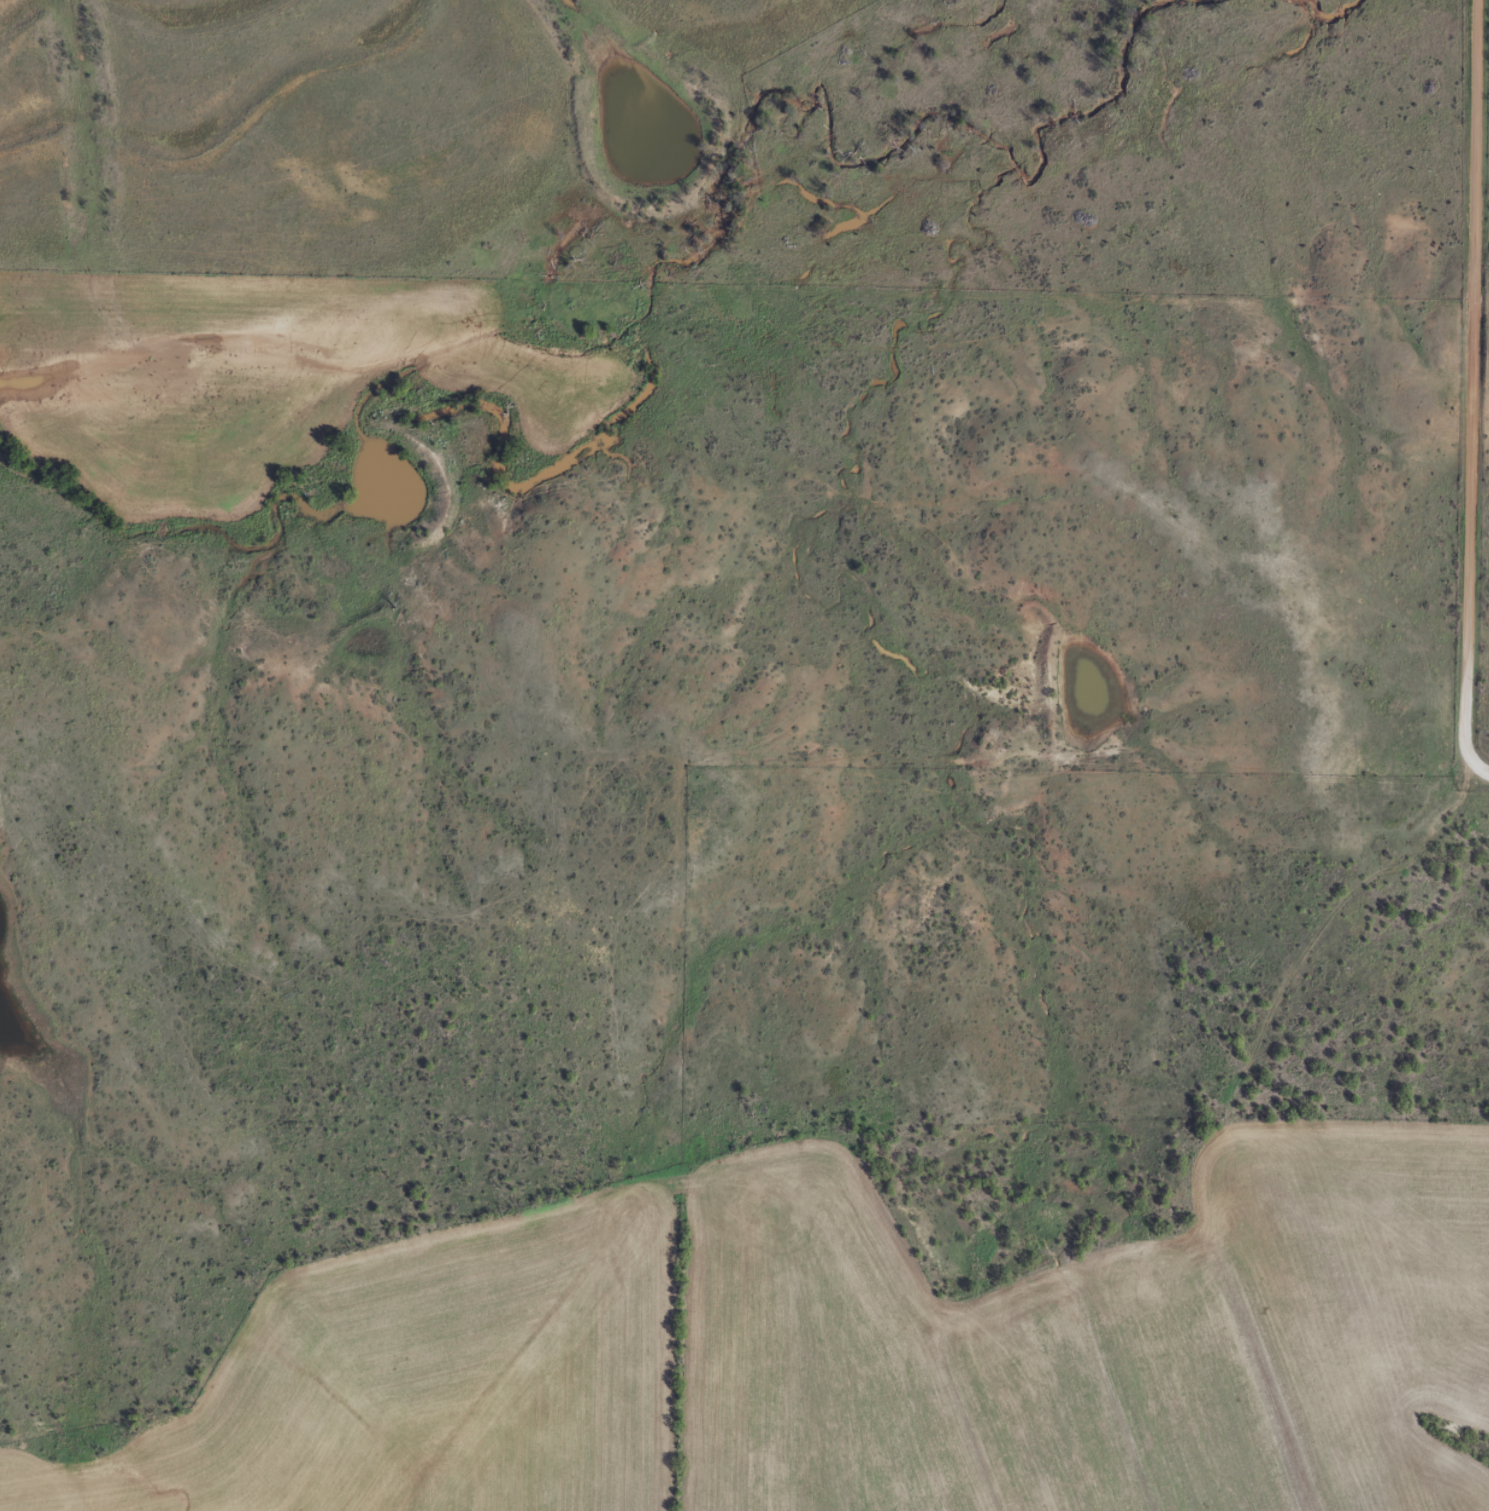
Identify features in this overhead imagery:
road: (1476, 388)
park: (1431, 757)

